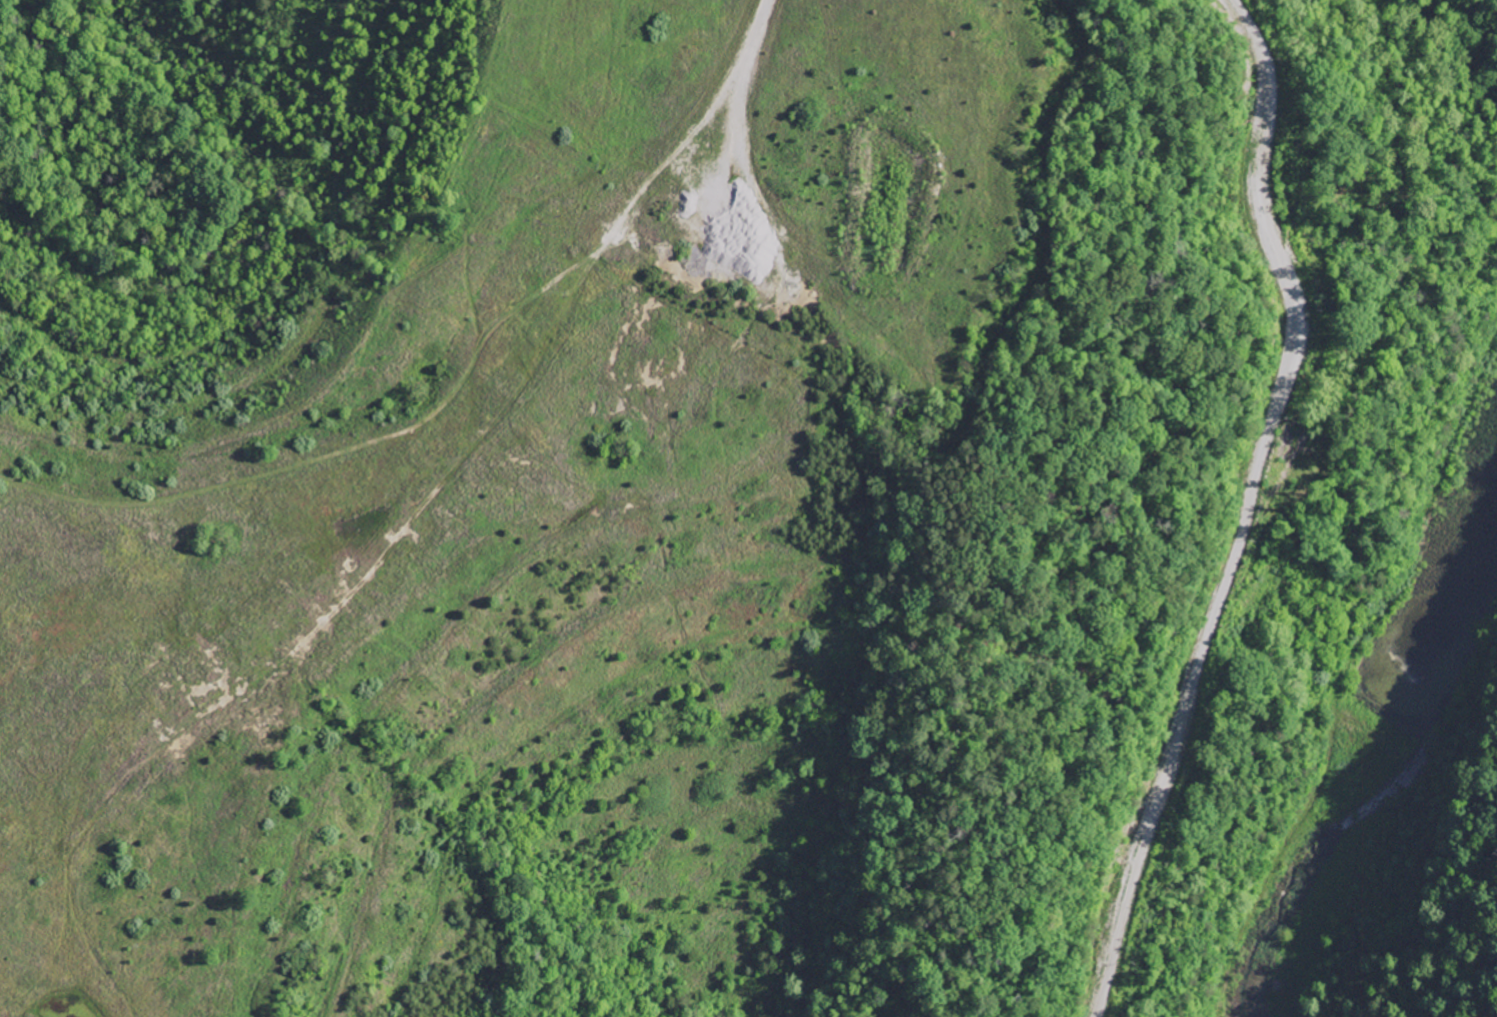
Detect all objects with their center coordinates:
road: (1247, 508)

